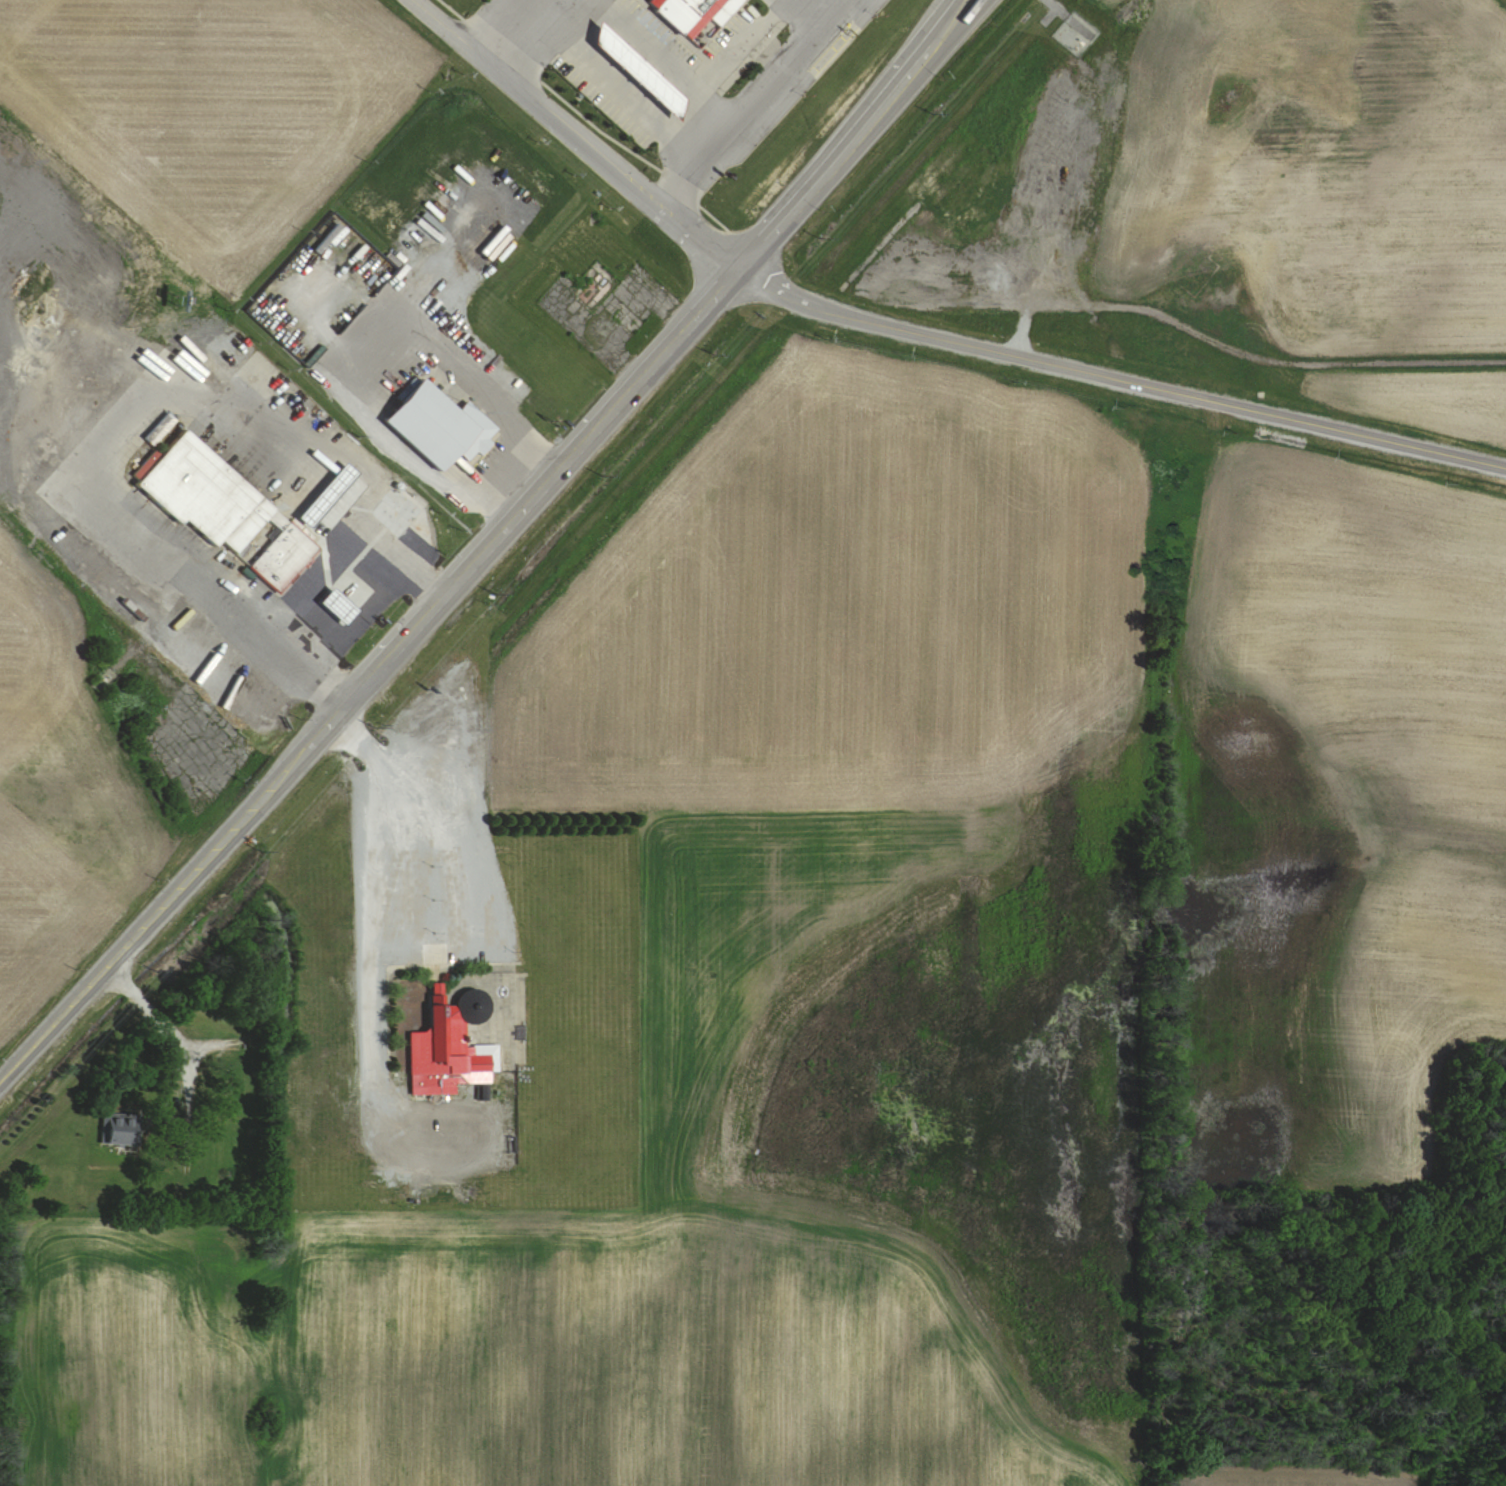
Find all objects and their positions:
building: (698, 7)
road: (500, 25)
road: (930, 44)
road: (946, 45)
road: (669, 58)
parking lot: (694, 63)
road: (612, 80)
road: (745, 104)
road: (578, 136)
building: (332, 238)
road: (360, 333)
road: (1121, 382)
road: (146, 409)
building: (445, 427)
building: (340, 504)
building: (228, 508)
road: (452, 586)
parking lot: (429, 939)
road: (370, 952)
road: (166, 1023)
building: (450, 1051)
building: (127, 1137)

